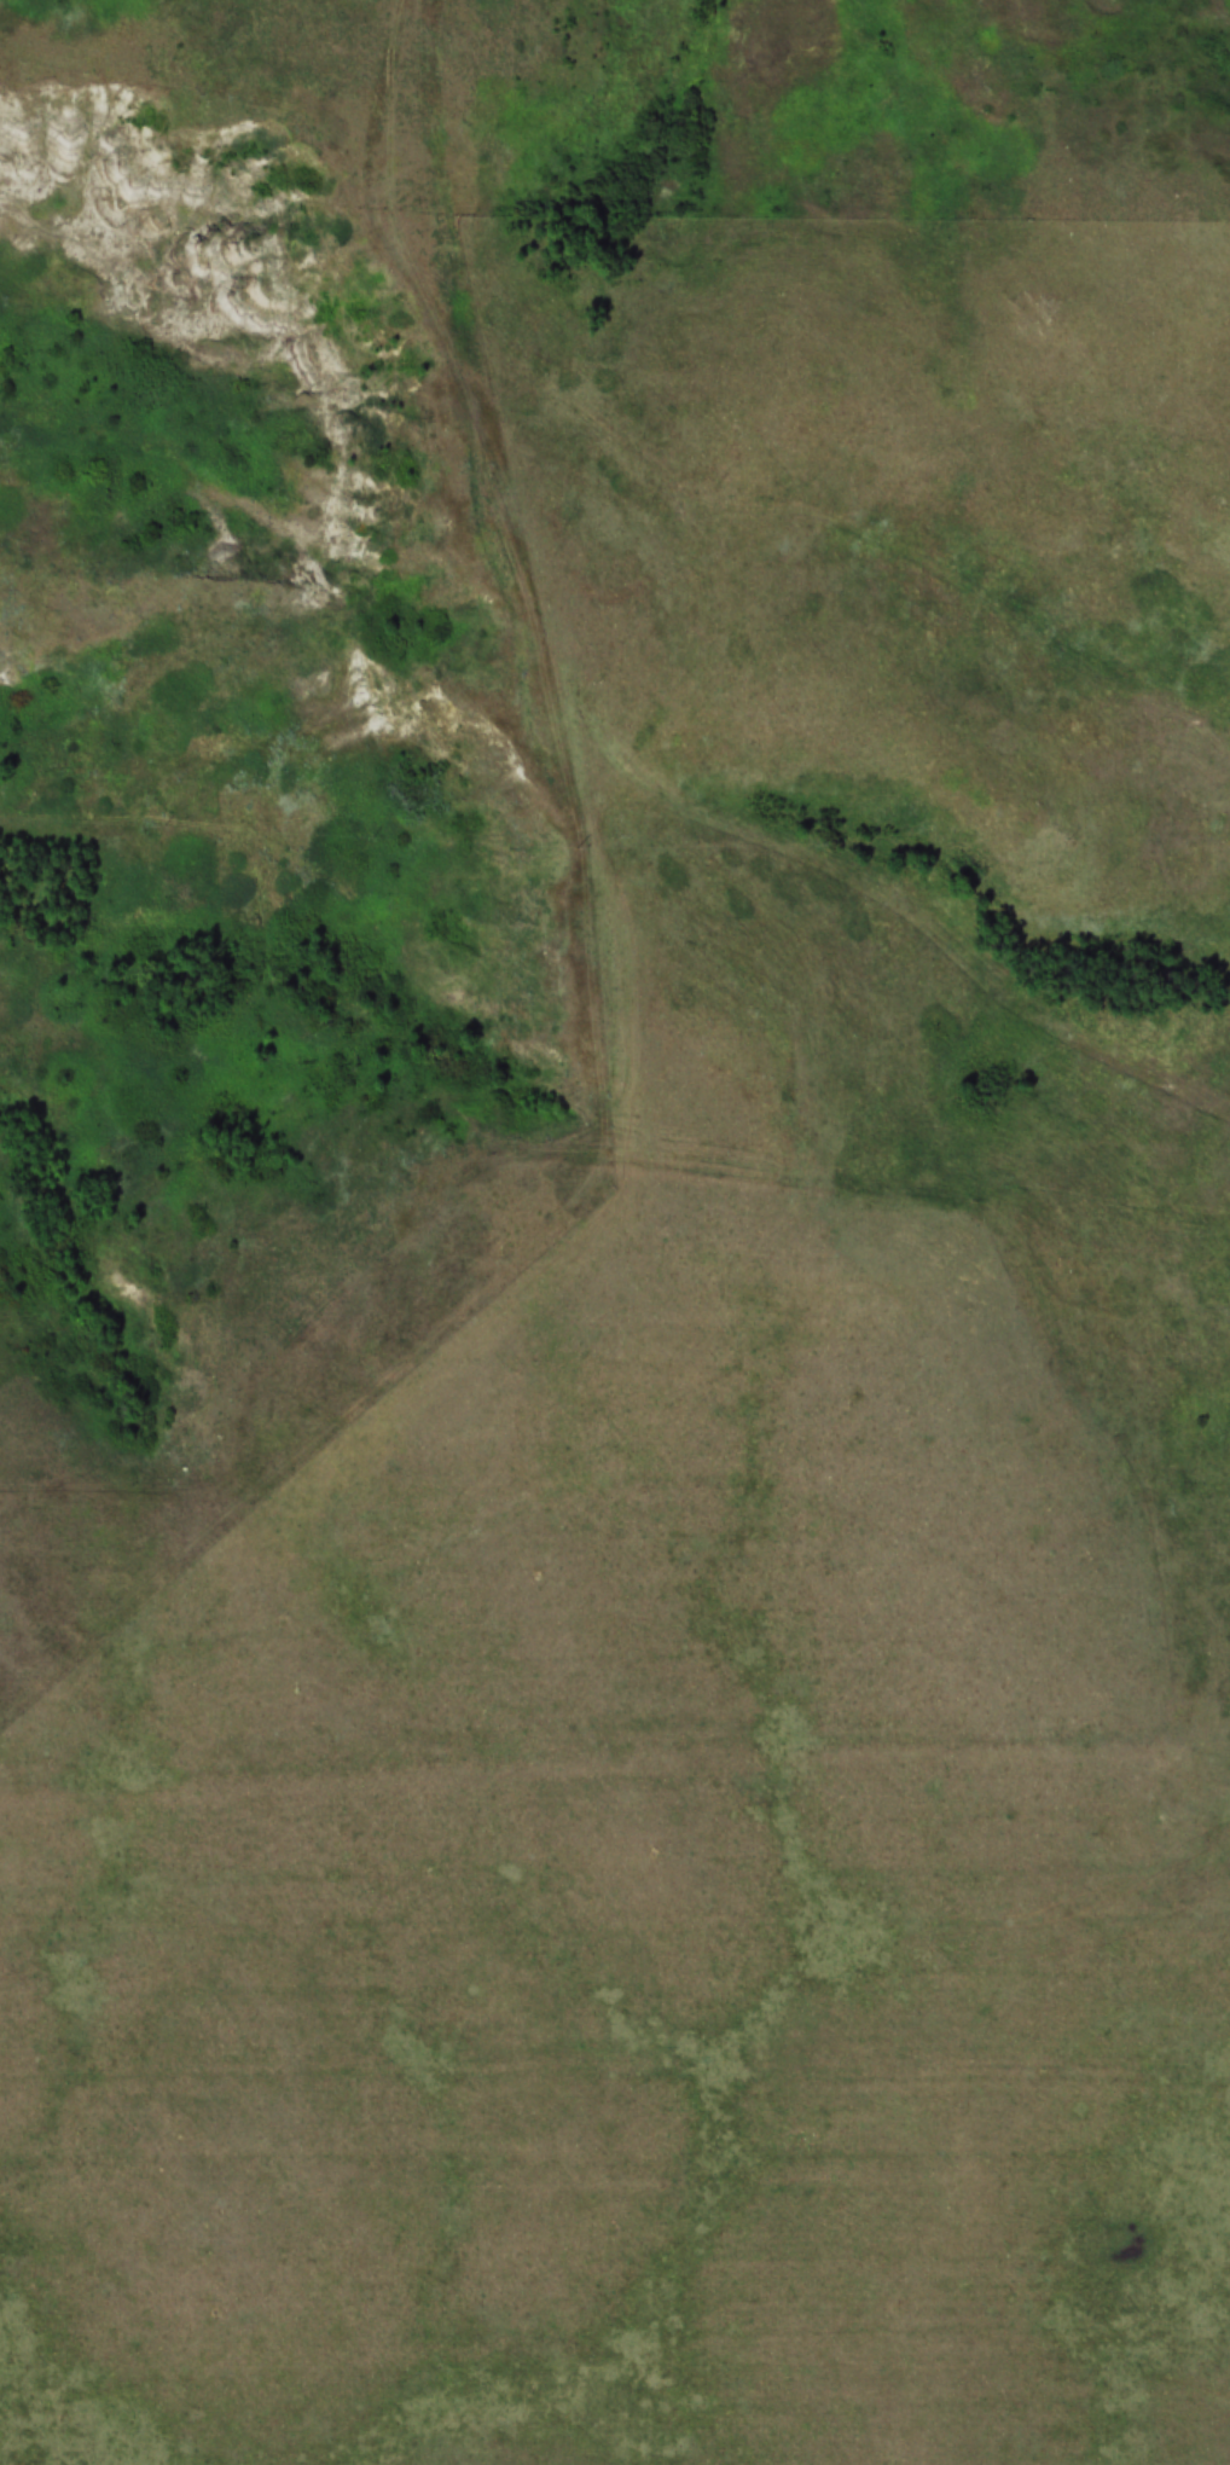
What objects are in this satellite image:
road: (609, 709)

